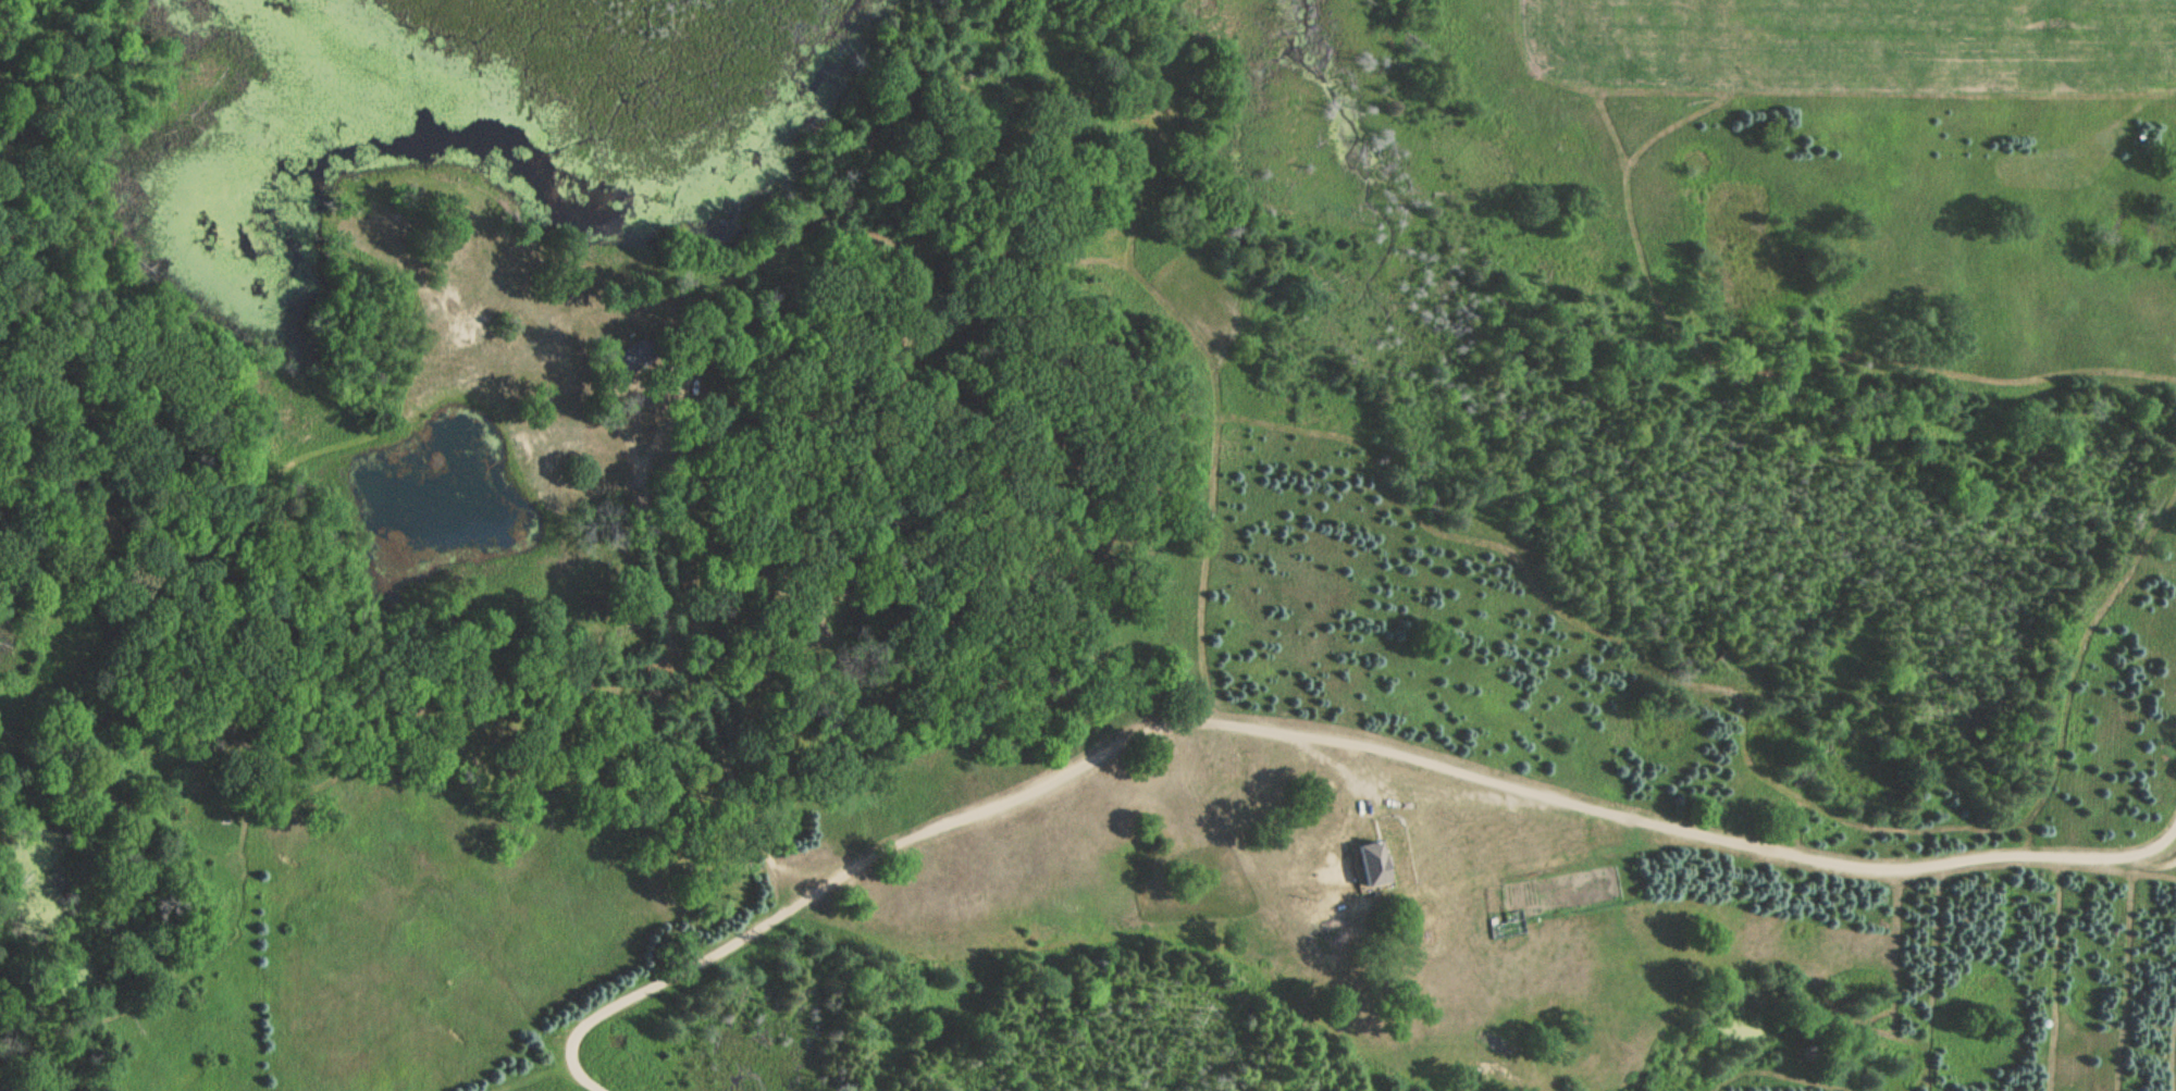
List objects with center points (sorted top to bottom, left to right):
road: (1325, 736)
building: (1287, 759)
road: (2144, 863)
building: (1376, 864)
road: (591, 1082)

